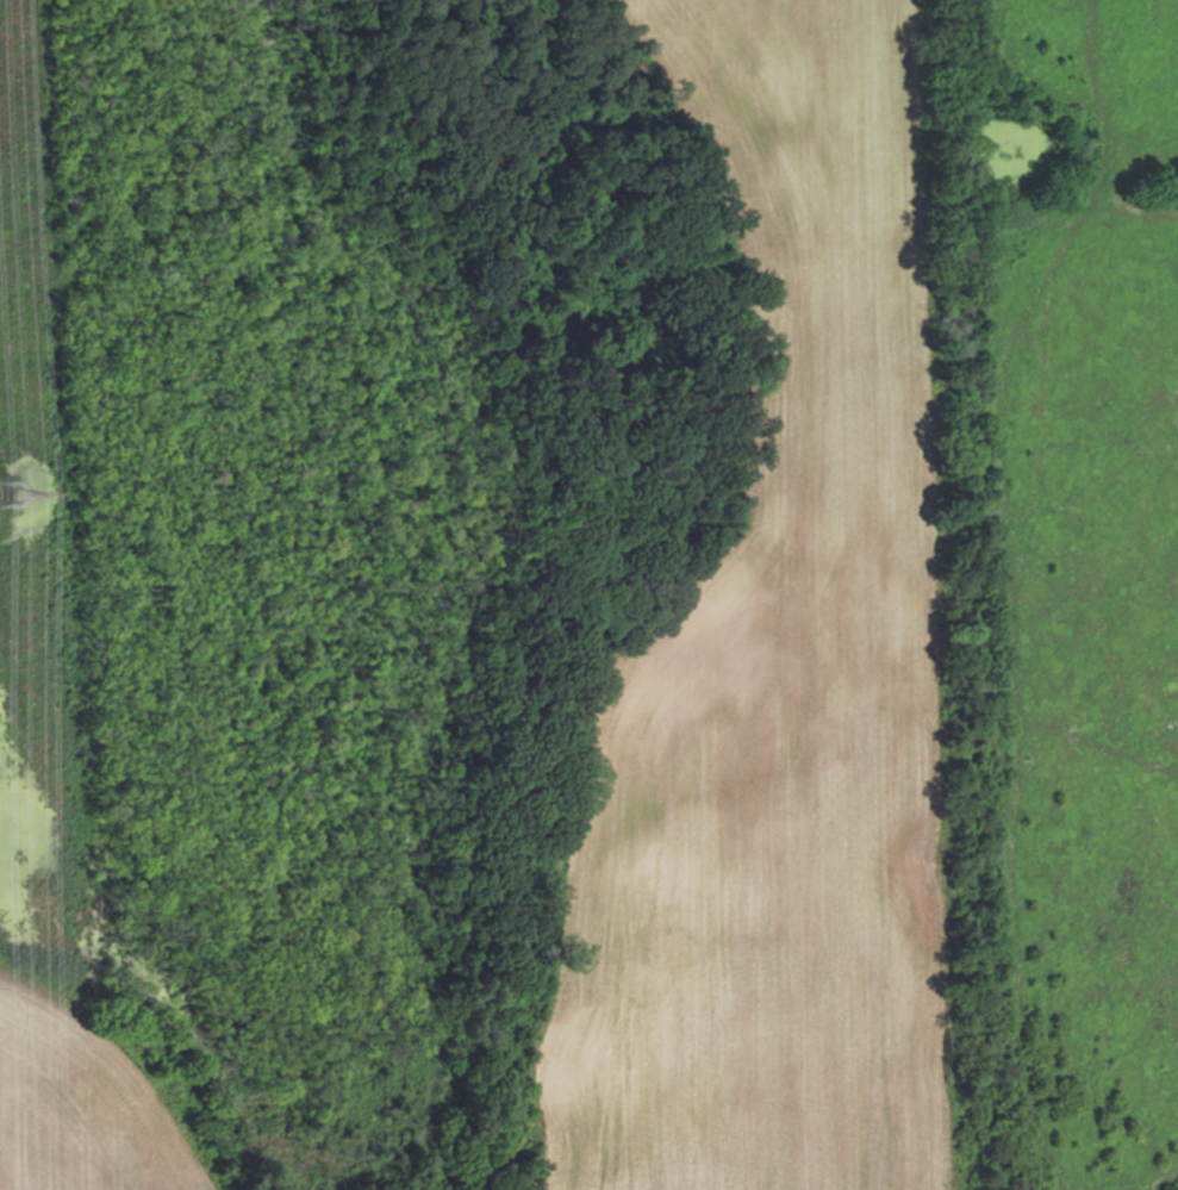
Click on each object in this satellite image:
power tower: (13, 494)

